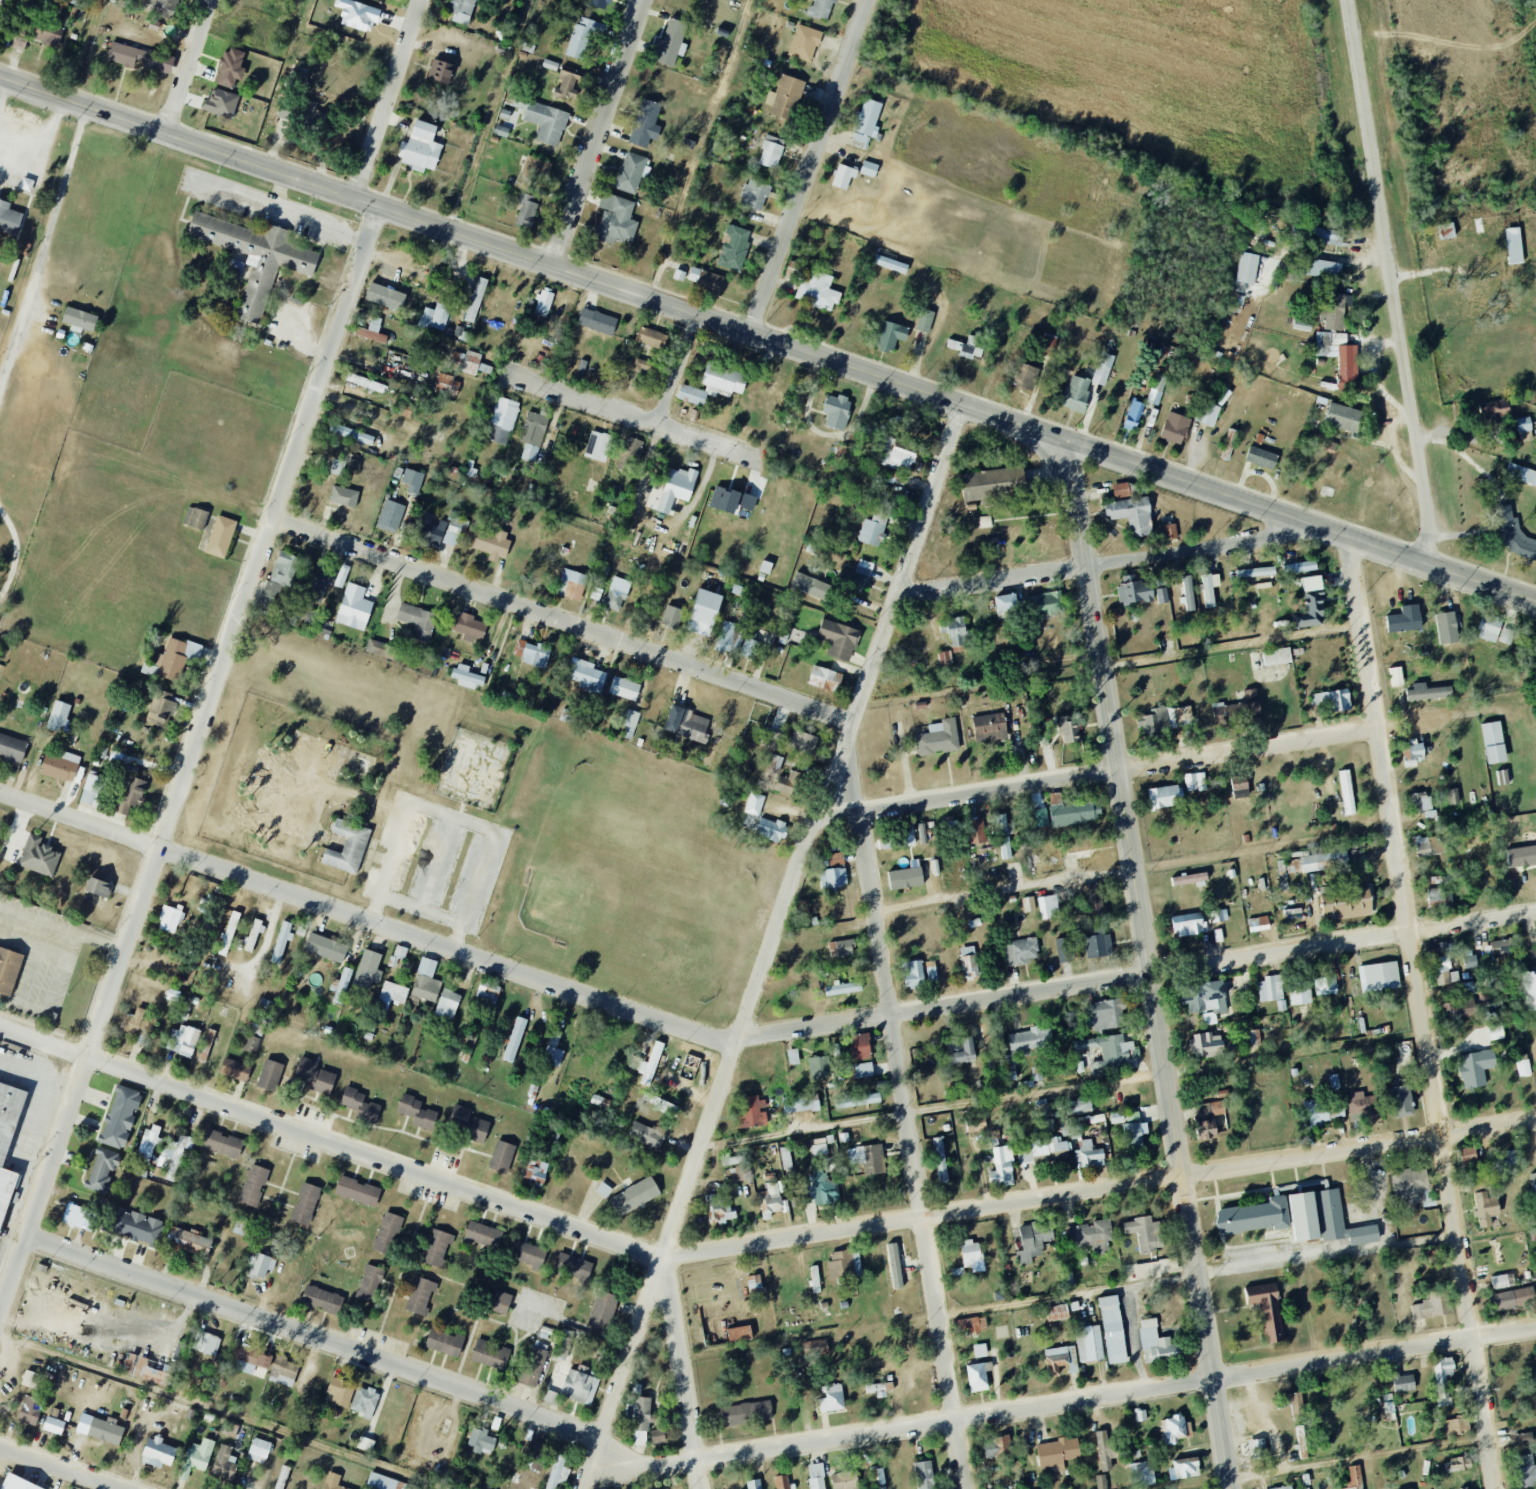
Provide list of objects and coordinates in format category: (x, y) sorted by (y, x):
building: (598, 3)
building: (159, 7)
building: (820, 8)
building: (461, 11)
building: (357, 15)
building: (38, 32)
building: (583, 35)
building: (671, 42)
building: (804, 43)
road: (88, 49)
building: (139, 58)
building: (550, 64)
road: (190, 65)
building: (230, 68)
building: (439, 71)
building: (568, 86)
road: (44, 89)
road: (3, 94)
building: (784, 96)
road: (389, 98)
building: (220, 103)
road: (494, 115)
building: (543, 119)
building: (866, 121)
building: (645, 123)
building: (500, 131)
road: (599, 132)
road: (43, 145)
building: (419, 147)
road: (702, 149)
building: (771, 151)
road: (812, 167)
building: (868, 168)
building: (536, 169)
building: (629, 172)
building: (843, 176)
road: (279, 188)
building: (754, 195)
road: (281, 206)
building: (526, 209)
building: (9, 218)
building: (615, 219)
building: (1446, 231)
building: (1320, 234)
building: (1513, 245)
building: (734, 247)
road: (44, 255)
building: (255, 257)
building: (890, 264)
building: (1248, 268)
building: (1323, 269)
building: (237, 270)
road: (575, 271)
building: (679, 275)
building: (706, 278)
road: (1394, 283)
building: (817, 291)
building: (385, 299)
building: (475, 299)
building: (543, 303)
building: (1335, 310)
building: (434, 317)
building: (79, 318)
building: (925, 320)
building: (596, 321)
building: (371, 330)
building: (890, 336)
building: (651, 337)
building: (1048, 345)
building: (966, 347)
building: (1339, 357)
building: (469, 362)
building: (643, 365)
building: (1102, 369)
road: (688, 374)
building: (1024, 376)
building: (365, 382)
building: (713, 384)
building: (447, 385)
building: (1156, 389)
building: (1076, 394)
building: (1494, 410)
building: (836, 411)
building: (505, 413)
building: (1134, 413)
building: (1206, 413)
building: (1343, 417)
road: (633, 420)
building: (1524, 424)
building: (1174, 428)
building: (351, 434)
building: (497, 435)
building: (1228, 444)
building: (598, 446)
building: (631, 448)
building: (843, 455)
road: (1466, 455)
building: (894, 456)
building: (1261, 458)
building: (338, 466)
building: (1521, 474)
building: (676, 488)
building: (1121, 490)
building: (343, 496)
building: (723, 500)
building: (747, 502)
building: (1131, 514)
building: (195, 518)
building: (389, 518)
road: (1300, 518)
building: (872, 530)
building: (1169, 531)
building: (1513, 534)
building: (220, 536)
building: (492, 544)
road: (17, 553)
road: (1117, 564)
building: (765, 567)
building: (864, 567)
building: (1299, 567)
building: (1256, 572)
building: (280, 576)
building: (1159, 578)
building: (317, 583)
building: (1312, 583)
building: (571, 584)
building: (808, 585)
building: (1264, 585)
building: (1209, 588)
building: (1134, 591)
building: (1188, 593)
building: (616, 594)
building: (1162, 595)
building: (1005, 602)
building: (1046, 604)
building: (354, 607)
building: (703, 612)
building: (1310, 612)
building: (671, 616)
building: (1405, 619)
building: (417, 621)
road: (559, 625)
building: (469, 627)
building: (1447, 628)
building: (1489, 628)
building: (954, 630)
building: (1506, 636)
building: (726, 637)
building: (838, 639)
building: (377, 647)
building: (750, 647)
building: (531, 653)
building: (1277, 656)
building: (175, 657)
building: (945, 658)
road: (1106, 667)
building: (585, 675)
building: (467, 677)
building: (1396, 677)
building: (824, 679)
building: (624, 688)
building: (1428, 692)
building: (1332, 700)
building: (161, 708)
building: (1238, 708)
building: (58, 716)
road: (1431, 716)
building: (1179, 717)
building: (1150, 721)
building: (630, 722)
building: (687, 724)
building: (989, 728)
building: (1068, 729)
building: (71, 737)
building: (938, 738)
building: (770, 739)
building: (802, 742)
building: (1493, 743)
building: (11, 748)
building: (1413, 752)
road: (189, 756)
building: (774, 764)
building: (60, 765)
road: (1088, 777)
building: (1503, 777)
building: (1195, 782)
building: (788, 783)
building: (1239, 783)
building: (90, 789)
building: (1346, 792)
building: (129, 793)
building: (1241, 794)
building: (1165, 797)
building: (1453, 797)
building: (1055, 798)
building: (754, 804)
building: (1422, 804)
building: (1074, 814)
building: (770, 829)
building: (975, 830)
building: (922, 832)
building: (909, 835)
building: (1004, 836)
building: (1422, 846)
building: (346, 847)
building: (38, 856)
building: (1522, 856)
building: (1318, 862)
building: (935, 866)
building: (835, 871)
road: (1135, 871)
building: (905, 878)
building: (1189, 878)
building: (98, 887)
building: (1434, 894)
building: (1092, 896)
building: (1028, 903)
building: (1346, 904)
building: (1048, 907)
building: (1222, 915)
road: (368, 917)
building: (169, 919)
building: (974, 922)
building: (1186, 924)
building: (1258, 924)
building: (229, 933)
building: (253, 935)
building: (322, 940)
building: (281, 943)
building: (1098, 944)
road: (771, 947)
building: (840, 948)
building: (1501, 948)
building: (1063, 950)
building: (400, 951)
building: (1020, 951)
building: (1470, 961)
road: (1146, 964)
building: (1441, 964)
building: (8, 969)
building: (368, 969)
building: (931, 970)
building: (912, 972)
road: (1136, 975)
building: (1381, 976)
building: (426, 981)
building: (342, 985)
building: (1325, 985)
building: (843, 988)
building: (1270, 988)
building: (1529, 989)
building: (487, 992)
building: (1300, 993)
building: (391, 994)
building: (172, 995)
building: (1206, 1000)
building: (447, 1004)
building: (1458, 1009)
road: (1416, 1010)
building: (1107, 1014)
building: (137, 1025)
building: (1252, 1037)
building: (514, 1039)
building: (182, 1040)
building: (207, 1042)
building: (251, 1044)
building: (1206, 1044)
building: (859, 1046)
building: (1025, 1047)
building: (553, 1049)
building: (960, 1049)
building: (792, 1056)
building: (691, 1061)
building: (647, 1064)
building: (1523, 1066)
building: (819, 1067)
building: (1475, 1067)
building: (235, 1070)
building: (863, 1070)
building: (269, 1075)
building: (314, 1075)
road: (1060, 1089)
building: (1400, 1097)
building: (858, 1100)
building: (800, 1103)
building: (359, 1104)
road: (908, 1104)
building: (1077, 1105)
building: (1362, 1105)
building: (752, 1111)
building: (1322, 1111)
building: (416, 1112)
building: (120, 1116)
building: (460, 1116)
building: (1207, 1119)
building: (1066, 1127)
building: (478, 1130)
building: (645, 1135)
building: (1133, 1135)
building: (7, 1139)
road: (331, 1142)
building: (221, 1143)
building: (147, 1144)
building: (1041, 1148)
building: (174, 1155)
building: (1089, 1155)
building: (501, 1156)
building: (1468, 1156)
building: (866, 1158)
building: (1511, 1158)
building: (733, 1159)
building: (940, 1160)
building: (1002, 1167)
building: (101, 1171)
building: (536, 1173)
building: (1410, 1185)
building: (253, 1186)
building: (1533, 1187)
road: (1099, 1188)
building: (819, 1189)
building: (603, 1190)
building: (357, 1191)
building: (634, 1196)
building: (769, 1200)
building: (305, 1203)
building: (1485, 1208)
building: (718, 1210)
building: (72, 1215)
building: (1253, 1216)
building: (1303, 1216)
building: (1340, 1221)
building: (135, 1226)
building: (386, 1232)
building: (1145, 1232)
building: (482, 1234)
building: (1093, 1235)
building: (1033, 1240)
building: (188, 1241)
building: (436, 1248)
building: (527, 1253)
building: (972, 1255)
building: (844, 1264)
building: (260, 1265)
building: (894, 1265)
building: (572, 1267)
building: (1149, 1269)
building: (814, 1279)
building: (1500, 1281)
building: (370, 1283)
building: (755, 1286)
road: (1107, 1292)
building: (420, 1296)
building: (321, 1299)
building: (1513, 1299)
building: (500, 1302)
building: (1431, 1306)
building: (602, 1310)
building: (1266, 1310)
building: (1056, 1313)
building: (970, 1324)
building: (1112, 1329)
building: (739, 1334)
road: (312, 1341)
building: (443, 1342)
building: (205, 1343)
building: (1089, 1344)
building: (814, 1347)
building: (979, 1350)
building: (490, 1355)
building: (249, 1359)
building: (1060, 1360)
building: (532, 1366)
building: (1443, 1370)
building: (283, 1372)
road: (680, 1373)
building: (978, 1375)
building: (30, 1379)
building: (1403, 1382)
building: (579, 1387)
building: (876, 1390)
building: (340, 1391)
building: (548, 1396)
building: (831, 1398)
building: (364, 1401)
road: (1065, 1403)
building: (29, 1410)
road: (219, 1411)
building: (746, 1413)
building: (1140, 1415)
building: (639, 1418)
building: (53, 1425)
building: (1452, 1427)
building: (229, 1429)
building: (1174, 1429)
building: (105, 1430)
building: (657, 1436)
building: (1523, 1438)
building: (480, 1441)
building: (365, 1444)
building: (996, 1447)
building: (1257, 1448)
building: (258, 1450)
building: (1104, 1450)
building: (157, 1453)
building: (1057, 1453)
building: (536, 1455)
building: (196, 1457)
building: (223, 1462)
building: (1457, 1464)
road: (1346, 1466)
road: (58, 1468)
building: (1184, 1468)
building: (1524, 1471)
building: (557, 1472)
building: (1142, 1473)
building: (924, 1475)
building: (1354, 1475)
building: (816, 1476)
building: (281, 1477)
building: (844, 1480)
building: (332, 1481)
building: (383, 1482)
building: (781, 1482)
building: (1101, 1482)
building: (17, 1483)
building: (754, 1484)
building: (1284, 1488)
building: (1463, 1488)

